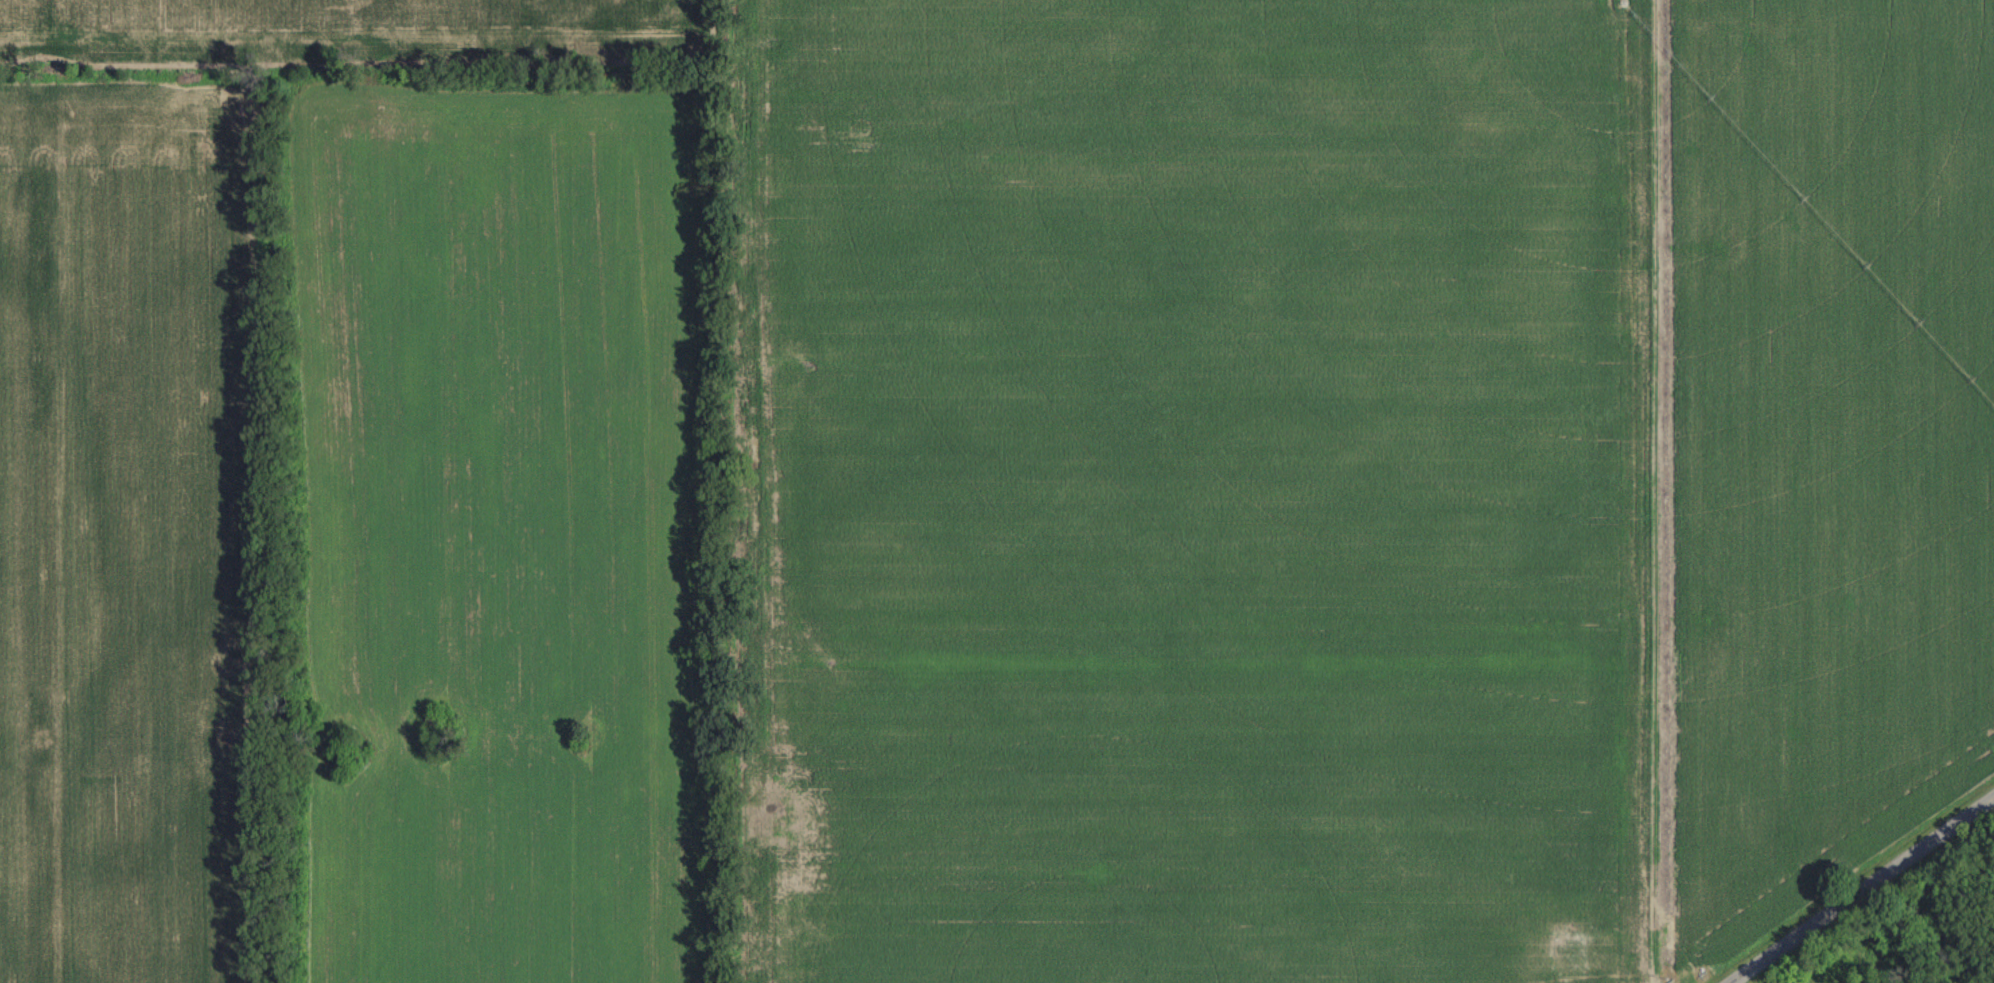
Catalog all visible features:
road: (1861, 889)

